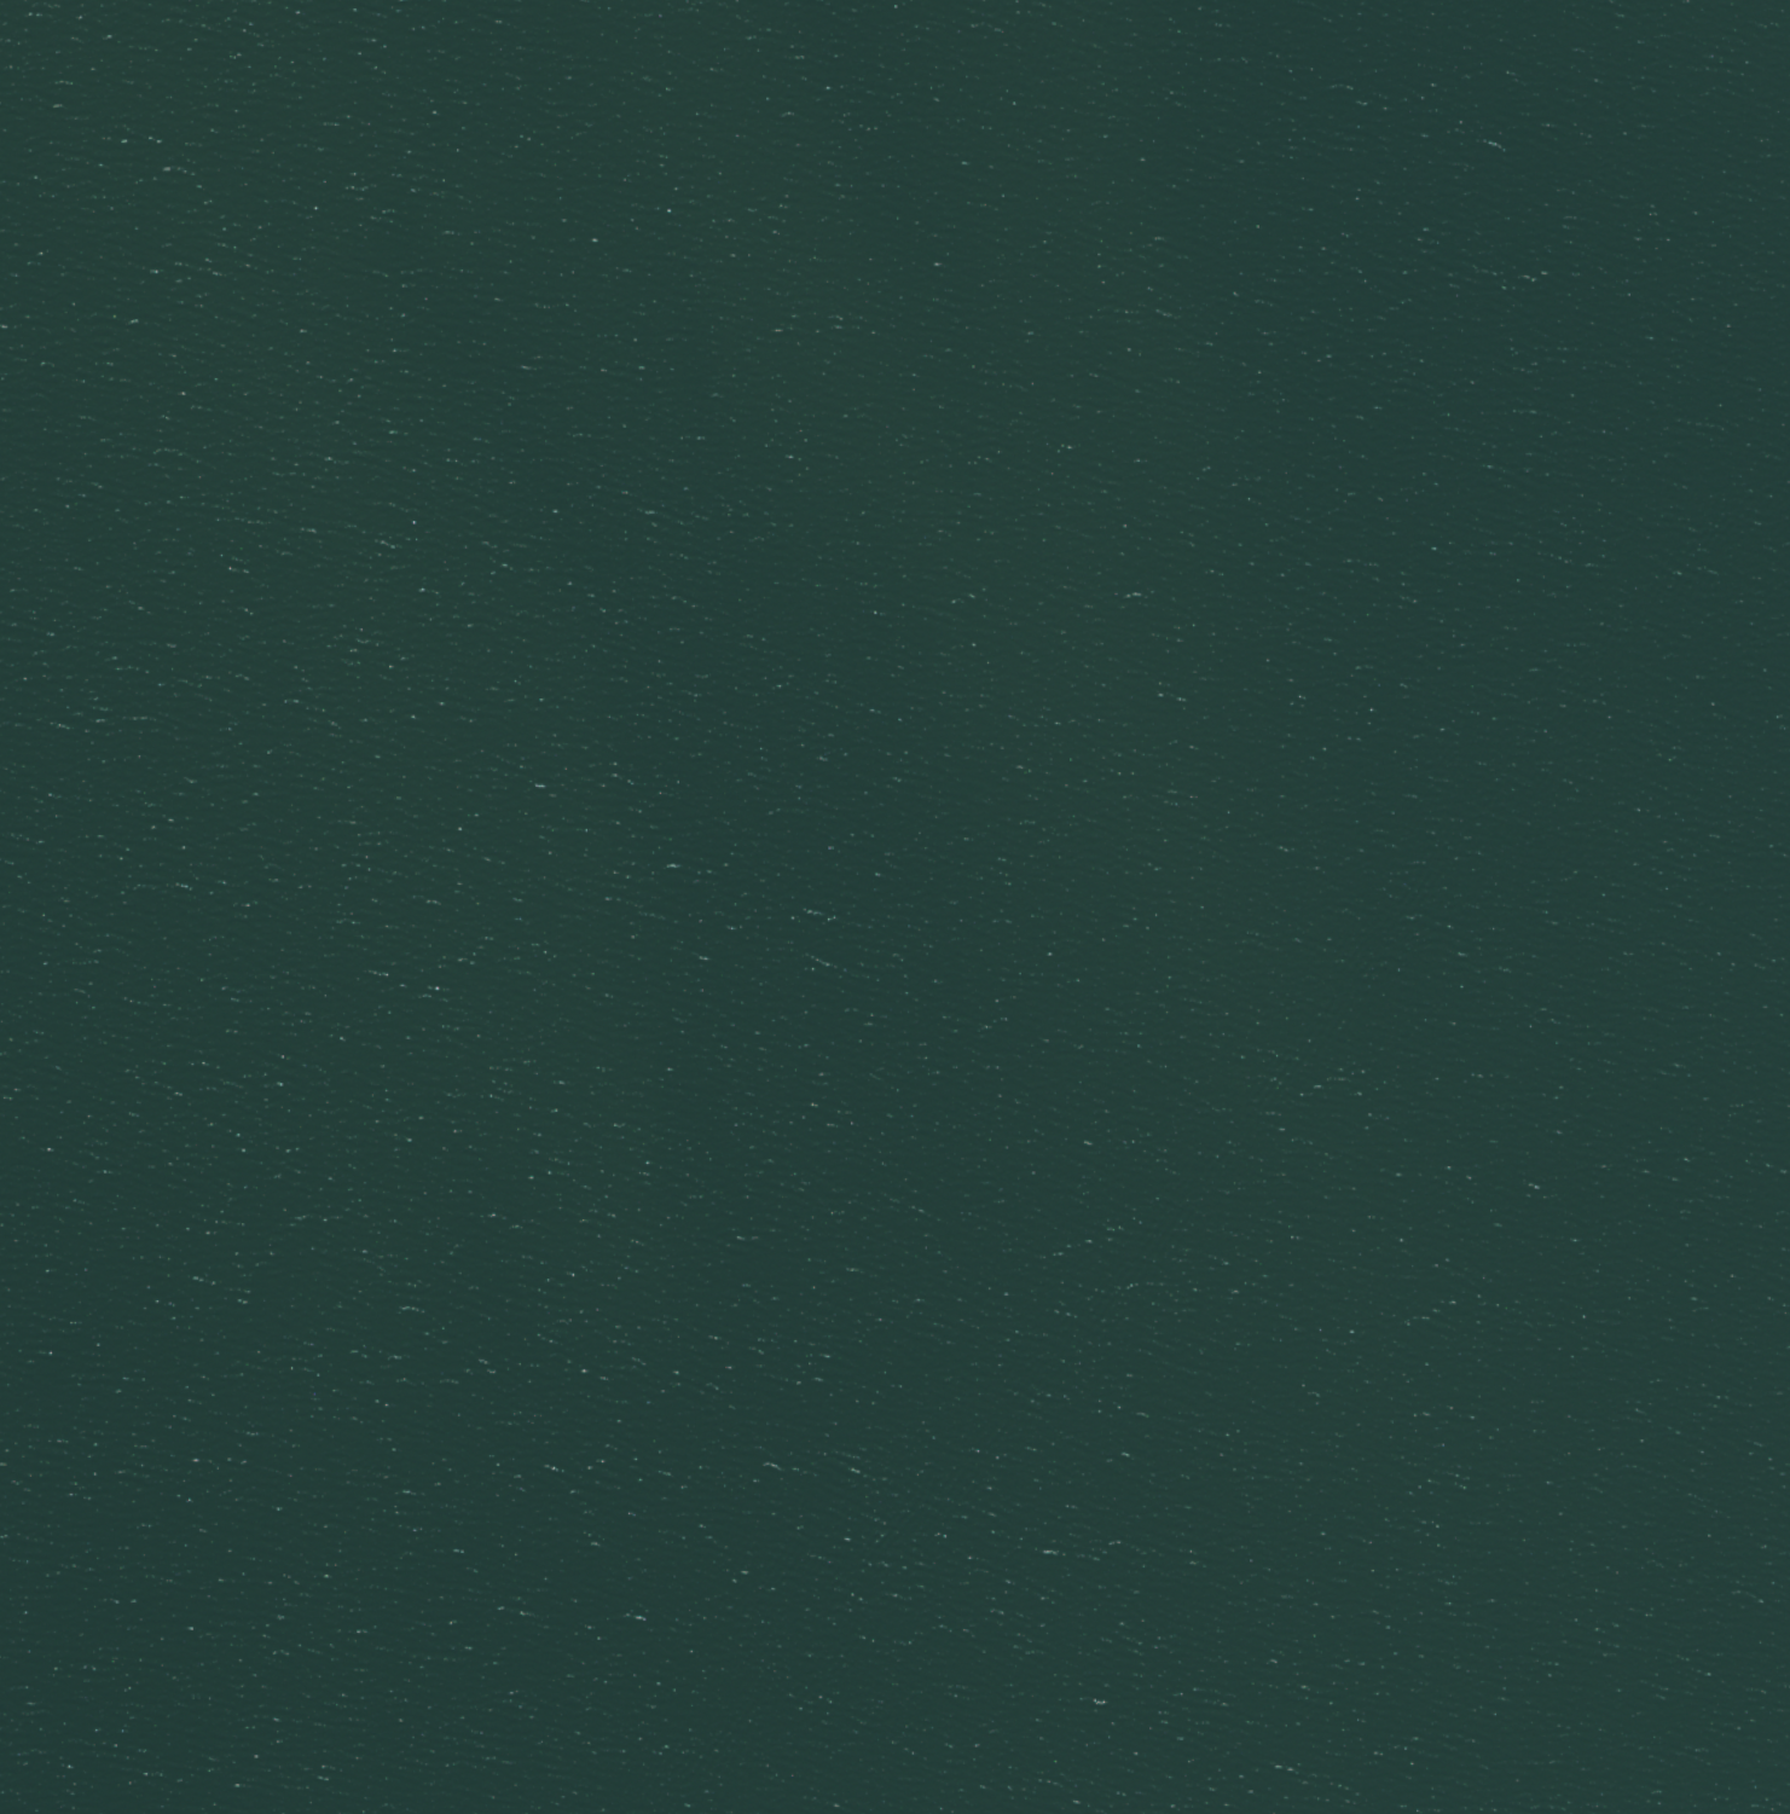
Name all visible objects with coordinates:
river: (905, 1354)

